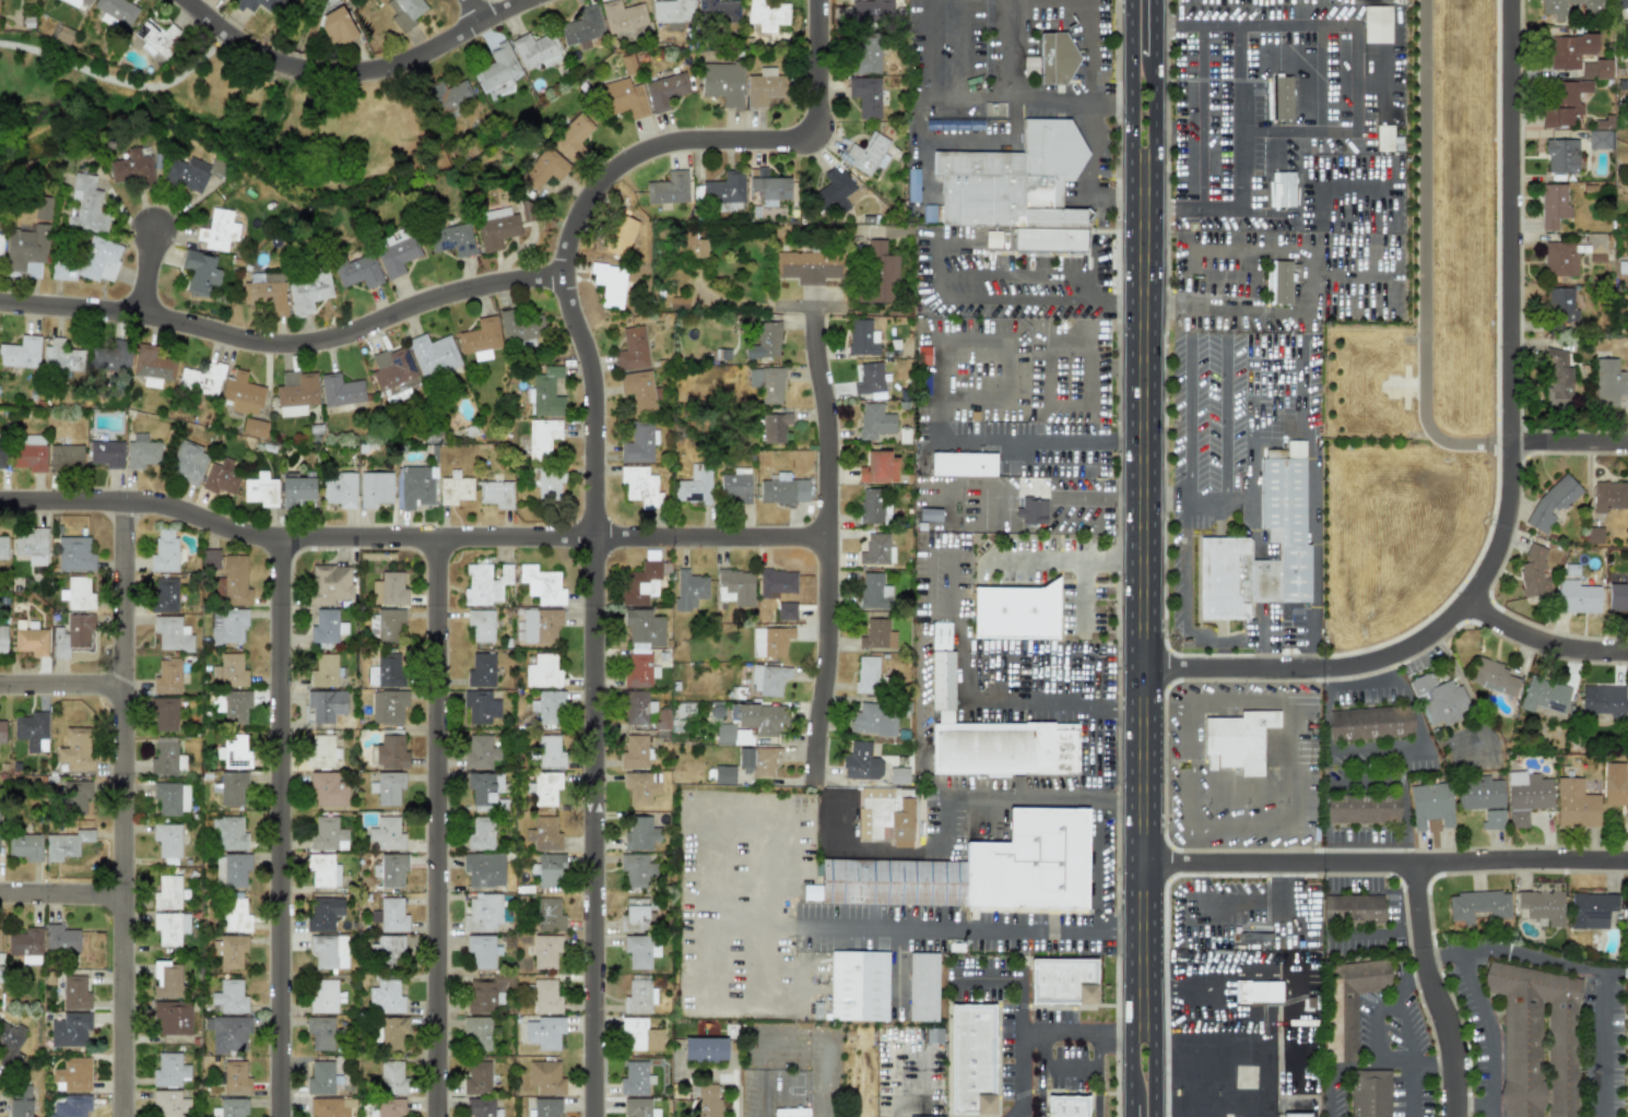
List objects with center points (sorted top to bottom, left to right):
building: (78, 2)
building: (259, 4)
building: (1621, 4)
building: (1552, 8)
building: (116, 10)
road: (473, 10)
building: (718, 11)
building: (404, 12)
building: (673, 12)
building: (872, 13)
building: (767, 14)
building: (622, 16)
building: (1377, 24)
road: (1176, 25)
road: (1153, 26)
building: (335, 27)
building: (582, 27)
road: (231, 36)
building: (154, 39)
building: (1570, 49)
building: (535, 50)
road: (423, 52)
building: (863, 55)
building: (1055, 58)
building: (1030, 66)
road: (294, 67)
building: (497, 70)
road: (1090, 70)
building: (1595, 70)
road: (920, 73)
road: (1200, 80)
road: (1231, 80)
building: (722, 84)
road: (120, 86)
building: (765, 87)
building: (664, 91)
road: (1016, 95)
building: (865, 96)
road: (984, 96)
road: (1324, 96)
building: (450, 97)
building: (1282, 97)
building: (624, 98)
building: (1564, 103)
park: (222, 112)
road: (1218, 134)
road: (1318, 134)
road: (1370, 134)
building: (571, 136)
building: (1385, 138)
building: (1600, 139)
road: (719, 140)
building: (866, 154)
building: (1561, 155)
building: (132, 168)
building: (543, 169)
building: (191, 173)
building: (912, 185)
building: (767, 187)
building: (1017, 187)
building: (669, 189)
road: (1260, 189)
building: (1281, 189)
building: (833, 193)
building: (86, 205)
building: (1553, 205)
building: (43, 209)
building: (527, 213)
building: (931, 213)
building: (496, 227)
building: (217, 230)
building: (625, 235)
building: (452, 239)
building: (992, 239)
building: (693, 247)
building: (0, 248)
building: (26, 251)
building: (394, 252)
building: (1570, 254)
road: (1423, 257)
building: (90, 262)
road: (1391, 262)
building: (807, 266)
road: (149, 268)
building: (357, 271)
building: (200, 272)
building: (881, 273)
road: (1025, 273)
building: (1277, 282)
building: (612, 286)
building: (307, 292)
building: (267, 294)
road: (978, 299)
building: (1560, 307)
building: (520, 329)
road: (279, 337)
building: (480, 338)
building: (862, 338)
building: (765, 342)
building: (632, 349)
building: (21, 353)
building: (110, 355)
building: (433, 355)
building: (61, 357)
road: (934, 365)
road: (1089, 365)
building: (152, 366)
building: (392, 371)
building: (201, 379)
building: (869, 379)
building: (1557, 379)
building: (1609, 381)
building: (767, 383)
road: (1089, 383)
road: (1051, 389)
building: (340, 391)
building: (639, 391)
building: (545, 392)
building: (296, 393)
building: (241, 394)
road: (1309, 396)
road: (1187, 417)
building: (874, 421)
building: (255, 427)
building: (775, 427)
building: (542, 438)
building: (638, 443)
road: (1568, 444)
building: (141, 452)
building: (30, 453)
building: (106, 454)
building: (2, 455)
building: (66, 458)
building: (189, 462)
road: (1039, 463)
building: (963, 464)
building: (878, 467)
building: (221, 478)
building: (548, 482)
road: (1509, 482)
building: (695, 485)
building: (735, 486)
building: (414, 487)
building: (640, 487)
building: (297, 488)
building: (455, 488)
building: (339, 489)
building: (375, 489)
building: (783, 489)
building: (260, 490)
road: (1035, 490)
building: (496, 494)
building: (1608, 496)
building: (1552, 502)
building: (873, 508)
building: (1030, 511)
building: (928, 513)
building: (1291, 532)
building: (1593, 534)
road: (411, 542)
building: (32, 545)
building: (2, 547)
road: (1132, 548)
building: (876, 549)
building: (164, 551)
road: (828, 552)
building: (74, 555)
road: (1054, 557)
road: (1143, 557)
building: (210, 559)
building: (1533, 572)
building: (233, 581)
building: (776, 583)
building: (329, 584)
building: (485, 584)
building: (640, 584)
road: (1154, 584)
building: (542, 585)
building: (735, 587)
building: (389, 590)
building: (688, 590)
building: (874, 591)
building: (78, 594)
building: (165, 595)
road: (1083, 595)
building: (1576, 596)
building: (1617, 597)
building: (786, 611)
building: (1014, 613)
building: (481, 625)
building: (540, 626)
building: (229, 627)
building: (327, 627)
building: (385, 627)
building: (644, 629)
building: (172, 633)
building: (876, 634)
building: (71, 635)
building: (30, 638)
road: (1264, 638)
road: (1544, 638)
building: (2, 640)
building: (769, 641)
building: (387, 669)
building: (231, 670)
building: (323, 670)
building: (481, 670)
building: (639, 670)
building: (542, 672)
building: (866, 674)
building: (167, 677)
building: (1494, 677)
building: (772, 680)
road: (963, 682)
road: (61, 686)
road: (1362, 686)
road: (593, 689)
building: (1543, 696)
building: (1439, 698)
building: (1601, 701)
building: (323, 706)
building: (481, 706)
road: (1144, 706)
building: (235, 708)
building: (387, 708)
building: (547, 708)
building: (637, 708)
building: (164, 714)
building: (762, 718)
building: (873, 721)
building: (1369, 723)
building: (662, 725)
road: (922, 727)
building: (32, 730)
building: (2, 732)
building: (990, 732)
building: (733, 736)
building: (1238, 739)
road: (1096, 740)
building: (76, 749)
road: (1380, 750)
building: (233, 751)
building: (390, 751)
building: (322, 752)
building: (477, 752)
building: (550, 752)
building: (634, 752)
building: (164, 757)
building: (757, 761)
building: (860, 762)
road: (1189, 770)
building: (723, 775)
building: (898, 775)
building: (1615, 783)
building: (387, 787)
building: (483, 787)
building: (233, 788)
building: (545, 788)
building: (639, 788)
building: (328, 789)
road: (1021, 794)
building: (1478, 794)
building: (1525, 795)
building: (172, 798)
building: (1428, 804)
building: (1574, 804)
road: (1401, 806)
building: (1361, 808)
road: (123, 812)
building: (885, 815)
road: (1323, 816)
building: (1493, 818)
building: (1627, 818)
road: (438, 829)
road: (280, 830)
building: (387, 833)
building: (639, 833)
building: (228, 834)
building: (328, 834)
building: (481, 834)
building: (543, 834)
building: (167, 840)
building: (64, 844)
building: (25, 846)
road: (1381, 863)
building: (235, 869)
building: (390, 869)
building: (484, 869)
building: (322, 870)
building: (636, 870)
building: (975, 870)
building: (550, 871)
road: (62, 893)
building: (167, 893)
road: (1265, 900)
road: (1192, 903)
building: (1477, 904)
building: (1541, 905)
building: (1352, 908)
building: (1591, 908)
building: (636, 911)
building: (235, 913)
building: (325, 913)
building: (484, 913)
building: (390, 915)
building: (548, 915)
building: (1625, 920)
road: (793, 925)
road: (755, 926)
road: (967, 926)
building: (170, 927)
road: (1375, 932)
building: (60, 939)
building: (25, 944)
building: (329, 951)
building: (390, 951)
building: (482, 951)
building: (639, 951)
building: (546, 952)
road: (1539, 958)
road: (894, 974)
road: (1624, 974)
building: (166, 979)
building: (1063, 984)
building: (858, 986)
building: (922, 987)
road: (1435, 990)
building: (1257, 991)
building: (74, 994)
building: (386, 996)
building: (482, 996)
building: (639, 996)
building: (326, 997)
building: (545, 997)
building: (228, 998)
road: (1022, 1009)
road: (1404, 1010)
road: (1483, 1015)
building: (173, 1018)
building: (1345, 1025)
building: (70, 1030)
building: (1529, 1030)
building: (229, 1033)
building: (320, 1033)
building: (392, 1033)
building: (477, 1033)
building: (544, 1033)
road: (1077, 1033)
building: (639, 1035)
road: (1373, 1041)
building: (11, 1043)
building: (1627, 1043)
road: (1606, 1044)
building: (704, 1049)
building: (970, 1059)
road: (1073, 1069)
building: (169, 1070)
road: (1414, 1070)
building: (73, 1074)
building: (545, 1077)
building: (391, 1078)
building: (476, 1078)
building: (634, 1078)
building: (235, 1079)
building: (321, 1079)
building: (1564, 1088)
road: (1041, 1091)
road: (1097, 1093)
building: (1369, 1093)
road: (1331, 1097)
road: (751, 1098)
building: (19, 1101)
building: (707, 1101)
building: (170, 1103)
building: (71, 1106)
building: (327, 1107)
building: (389, 1107)
building: (480, 1107)
building: (546, 1107)
building: (636, 1107)
road: (1133, 1107)
building: (231, 1108)
building: (1066, 1108)
road: (1208, 1113)
building: (1295, 1115)
building: (925, 1116)

